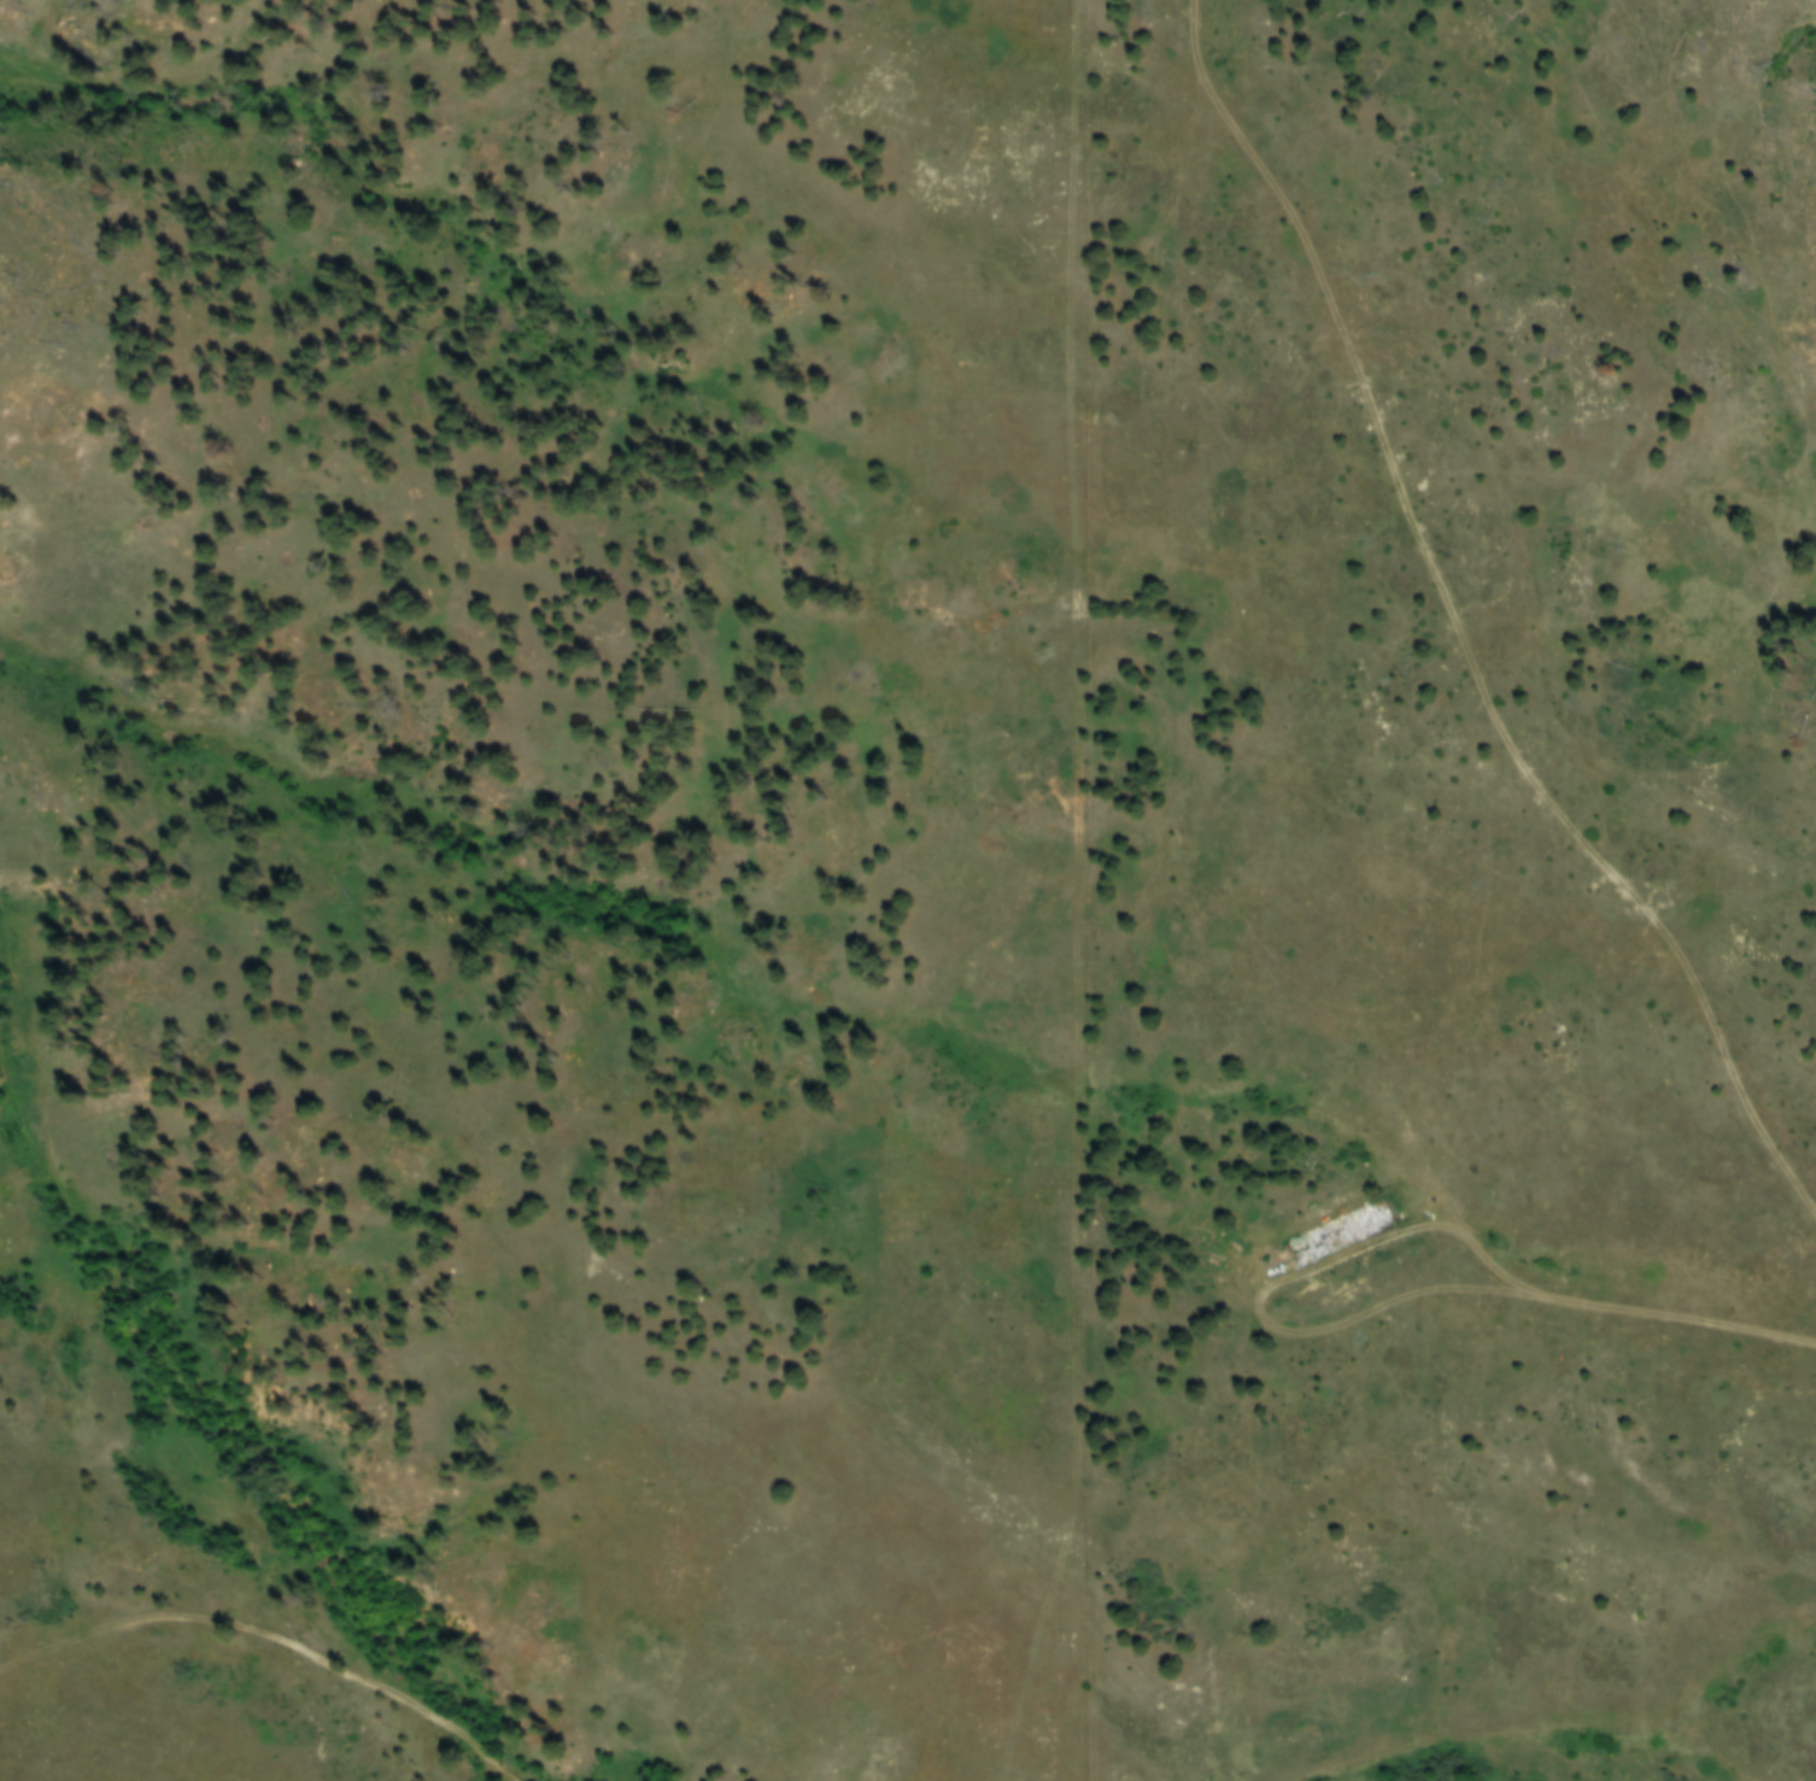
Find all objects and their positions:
road: (1455, 631)
road: (1588, 1307)

